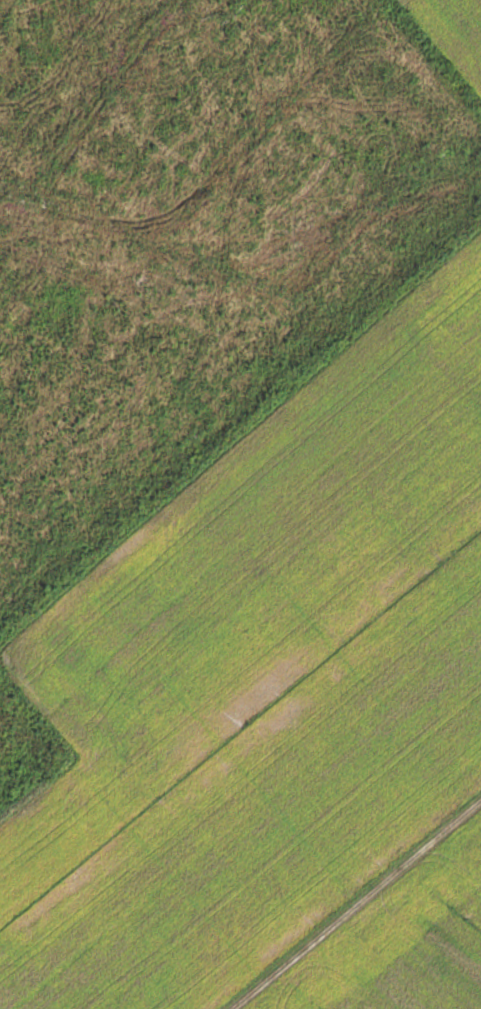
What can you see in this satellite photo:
road: (353, 902)

